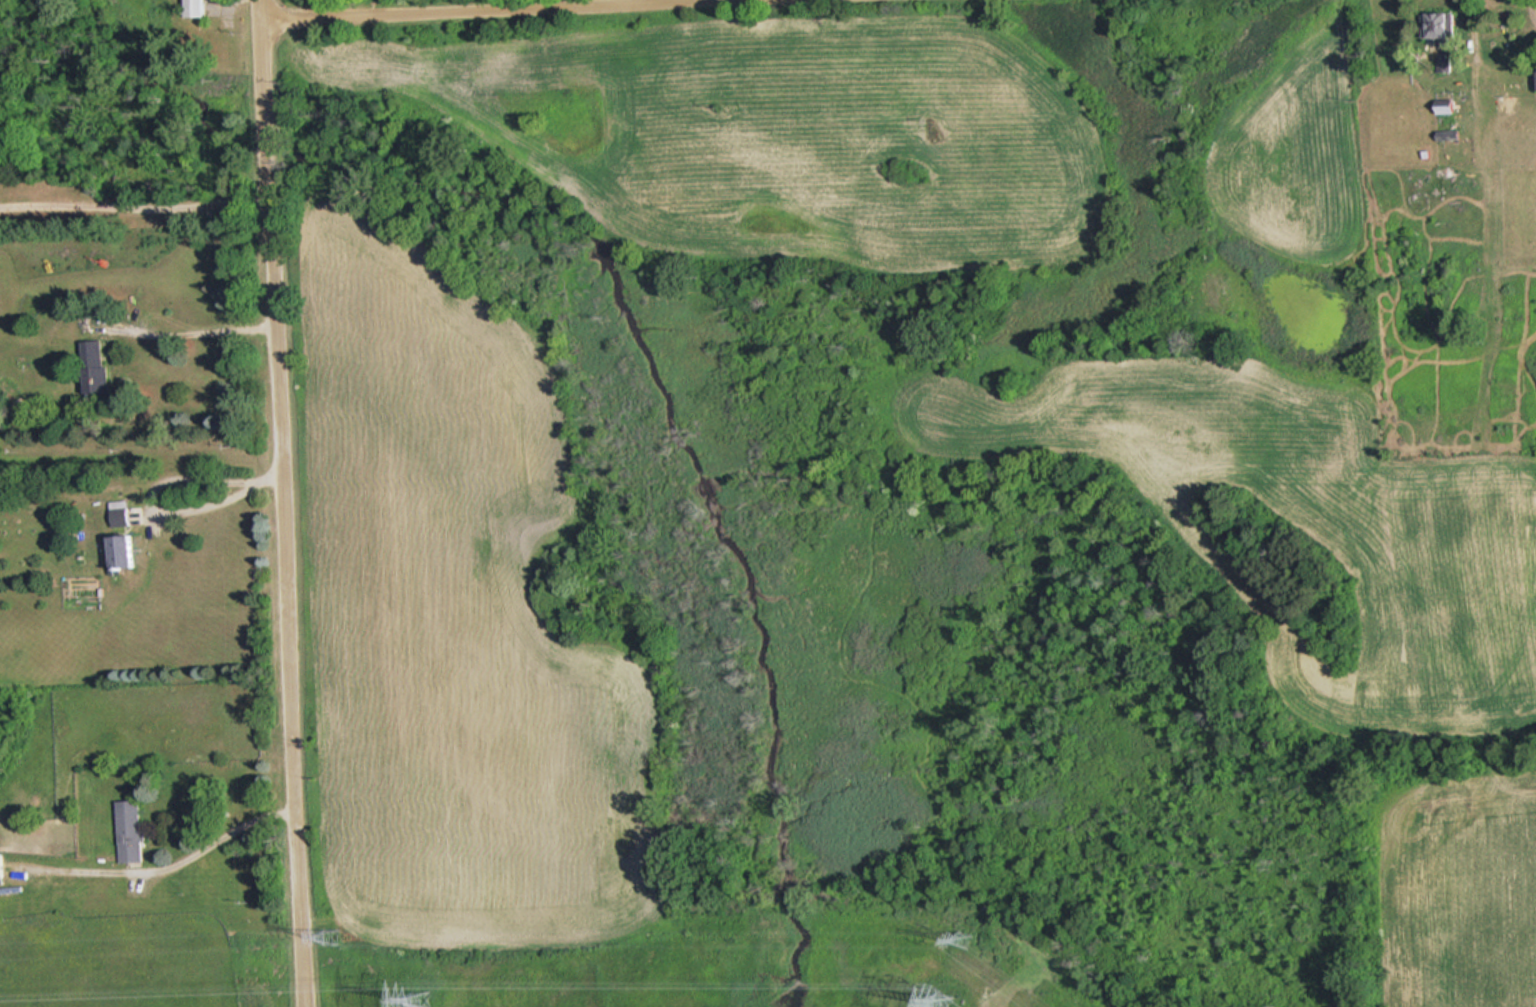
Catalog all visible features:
building: (198, 7)
road: (434, 7)
building: (1441, 28)
road: (136, 202)
road: (193, 331)
building: (97, 369)
road: (271, 475)
road: (153, 488)
road: (287, 503)
building: (122, 512)
building: (127, 551)
building: (129, 829)
road: (227, 832)
building: (0, 868)
power tower: (331, 935)
power tower: (960, 935)
power tower: (414, 997)
power tower: (943, 999)

